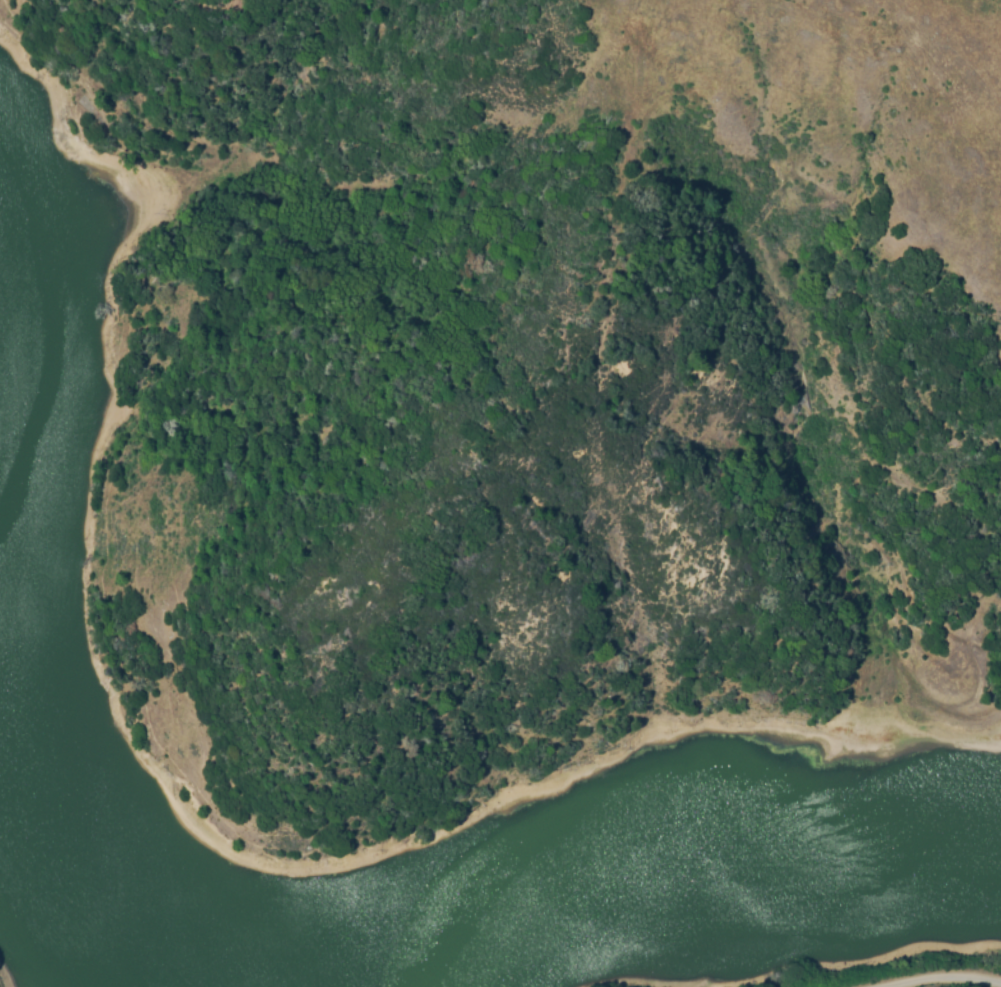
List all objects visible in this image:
road: (955, 982)

